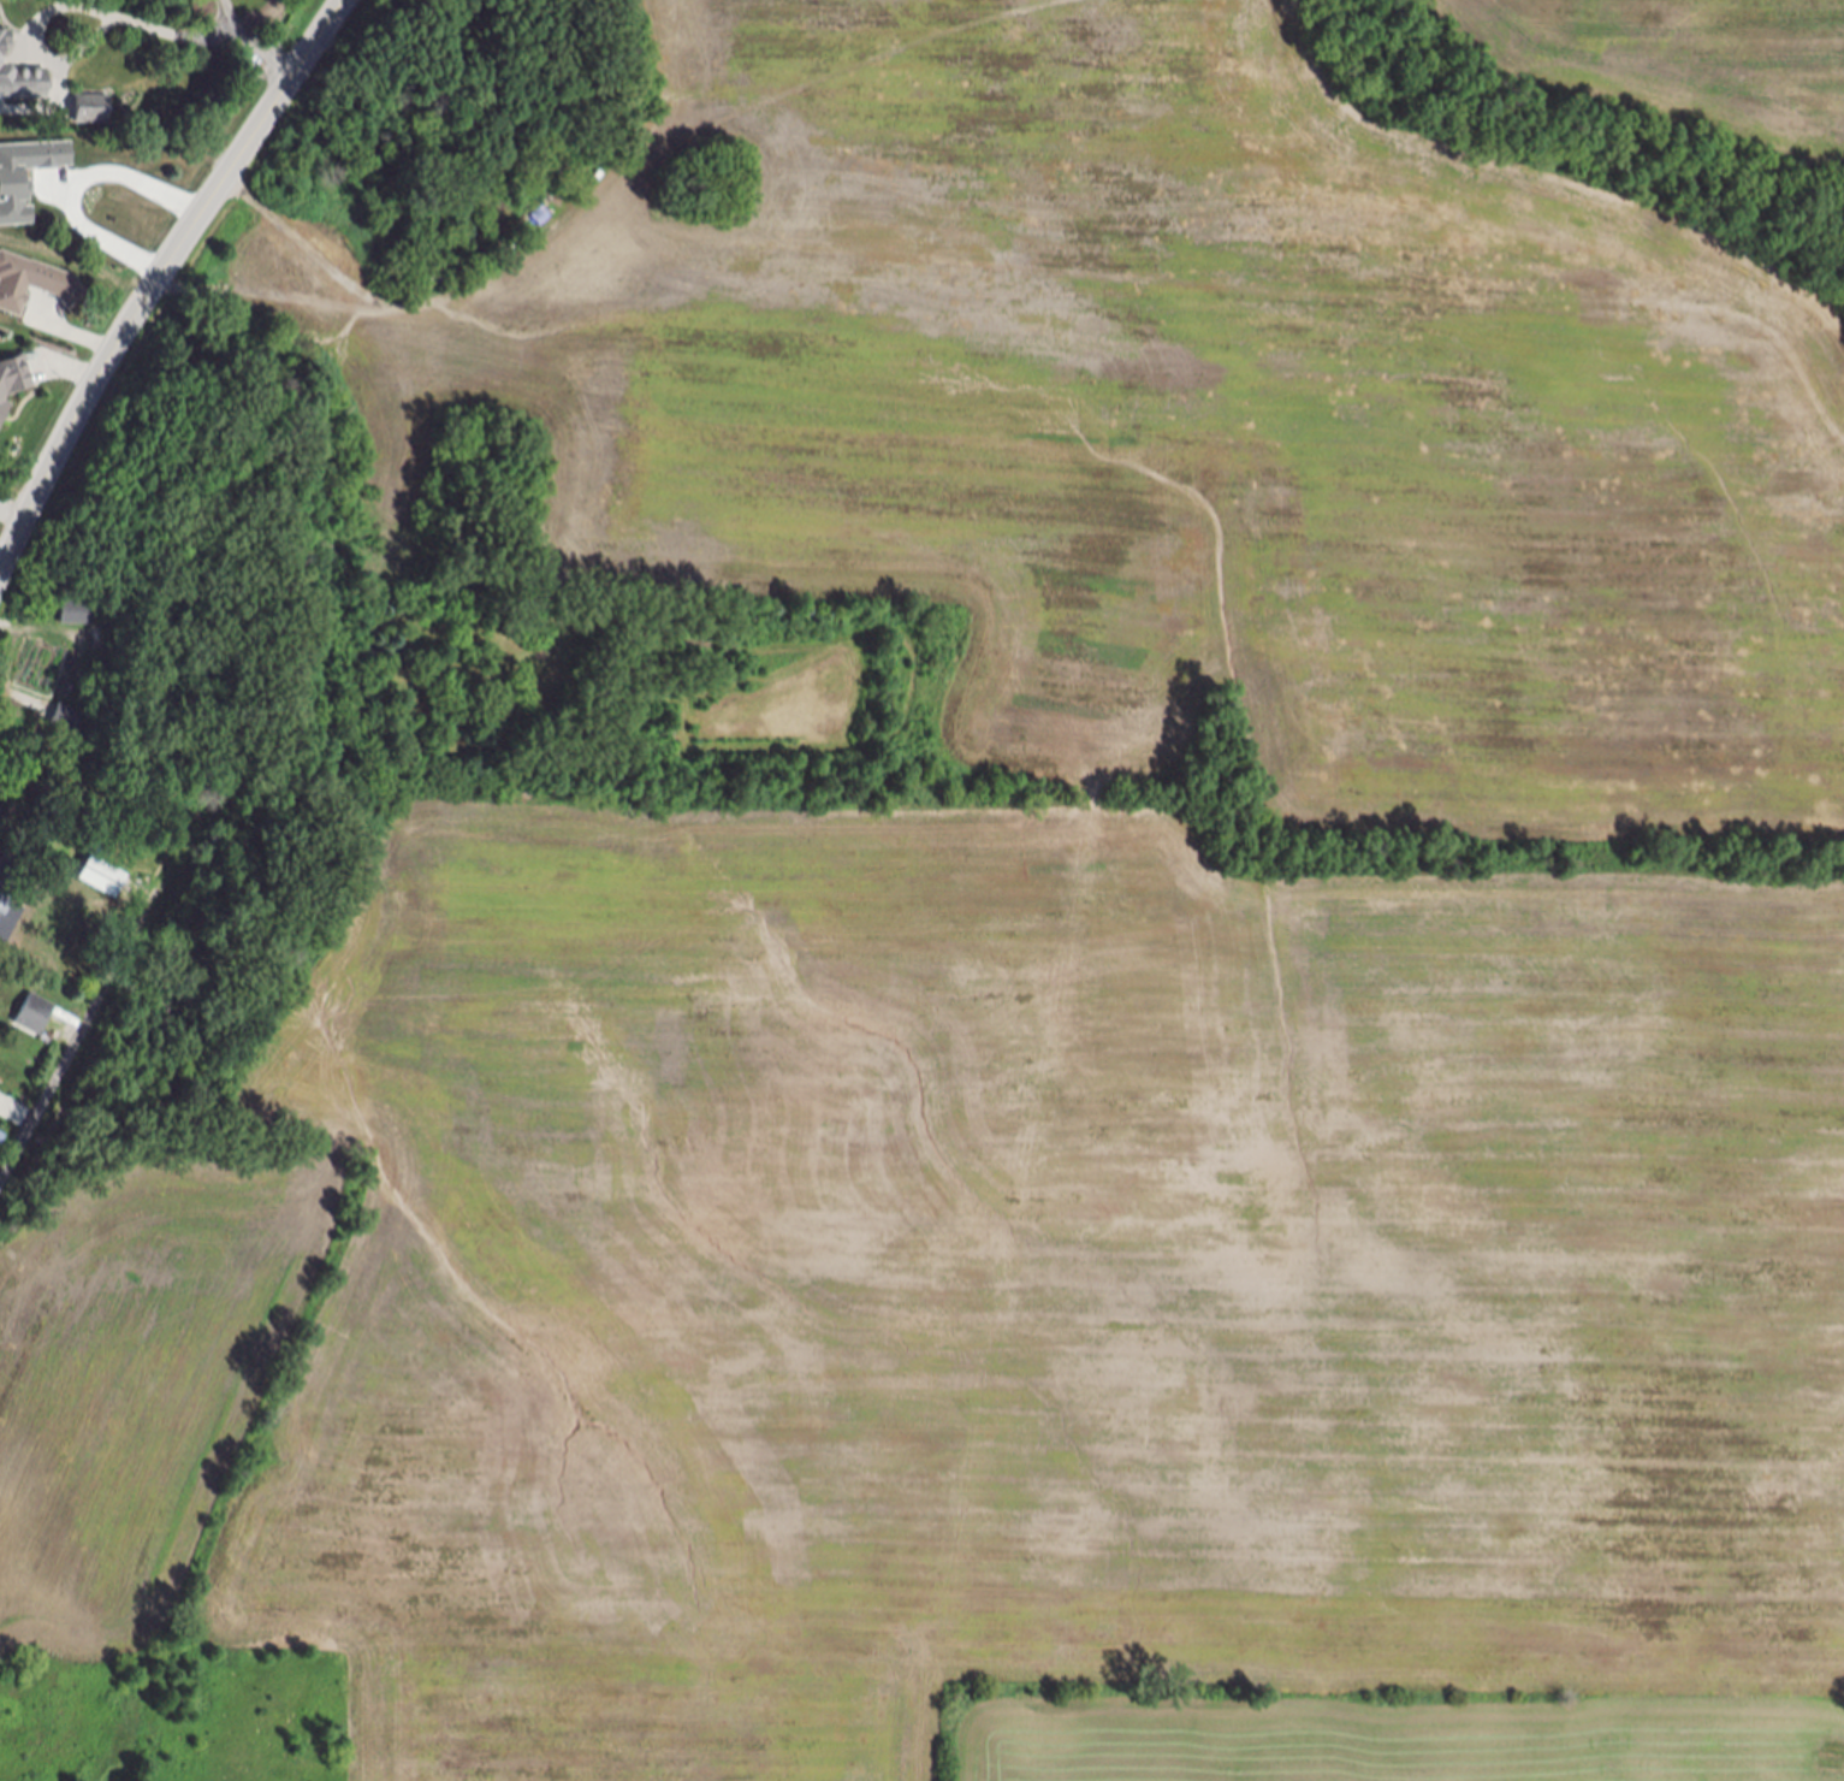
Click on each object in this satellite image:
road: (103, 16)
road: (257, 40)
crop: (1685, 55)
building: (20, 79)
building: (93, 110)
building: (12, 187)
road: (78, 188)
road: (160, 282)
building: (34, 284)
building: (12, 380)
building: (77, 615)
building: (67, 720)
building: (4, 811)
building: (102, 878)
building: (7, 884)
crop: (1028, 992)
building: (35, 1016)
road: (91, 1020)

